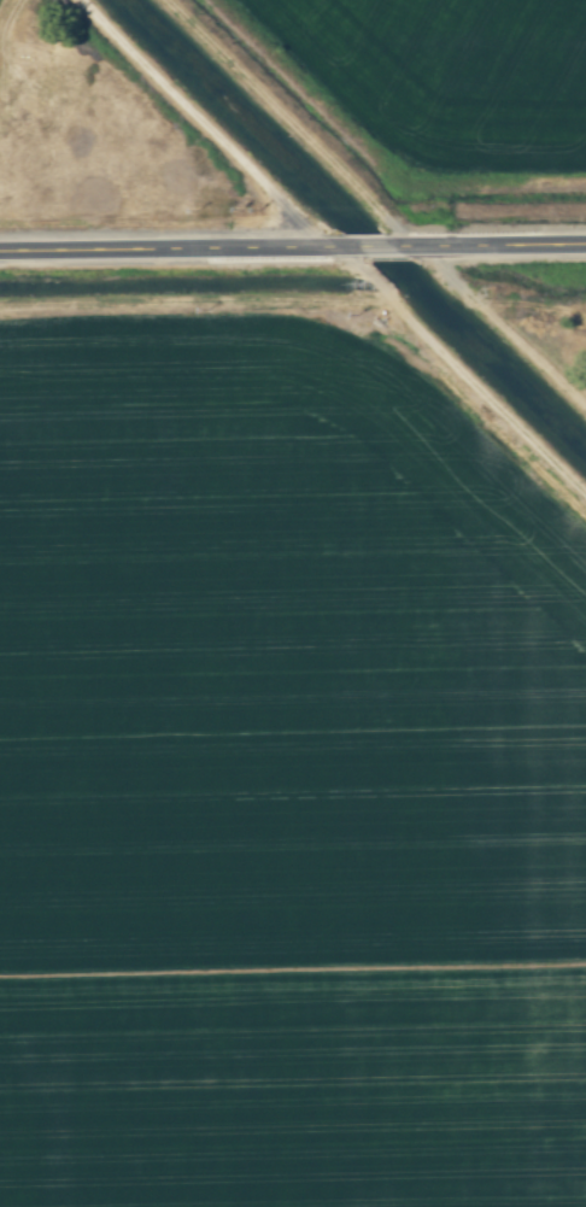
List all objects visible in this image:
road: (293, 250)

